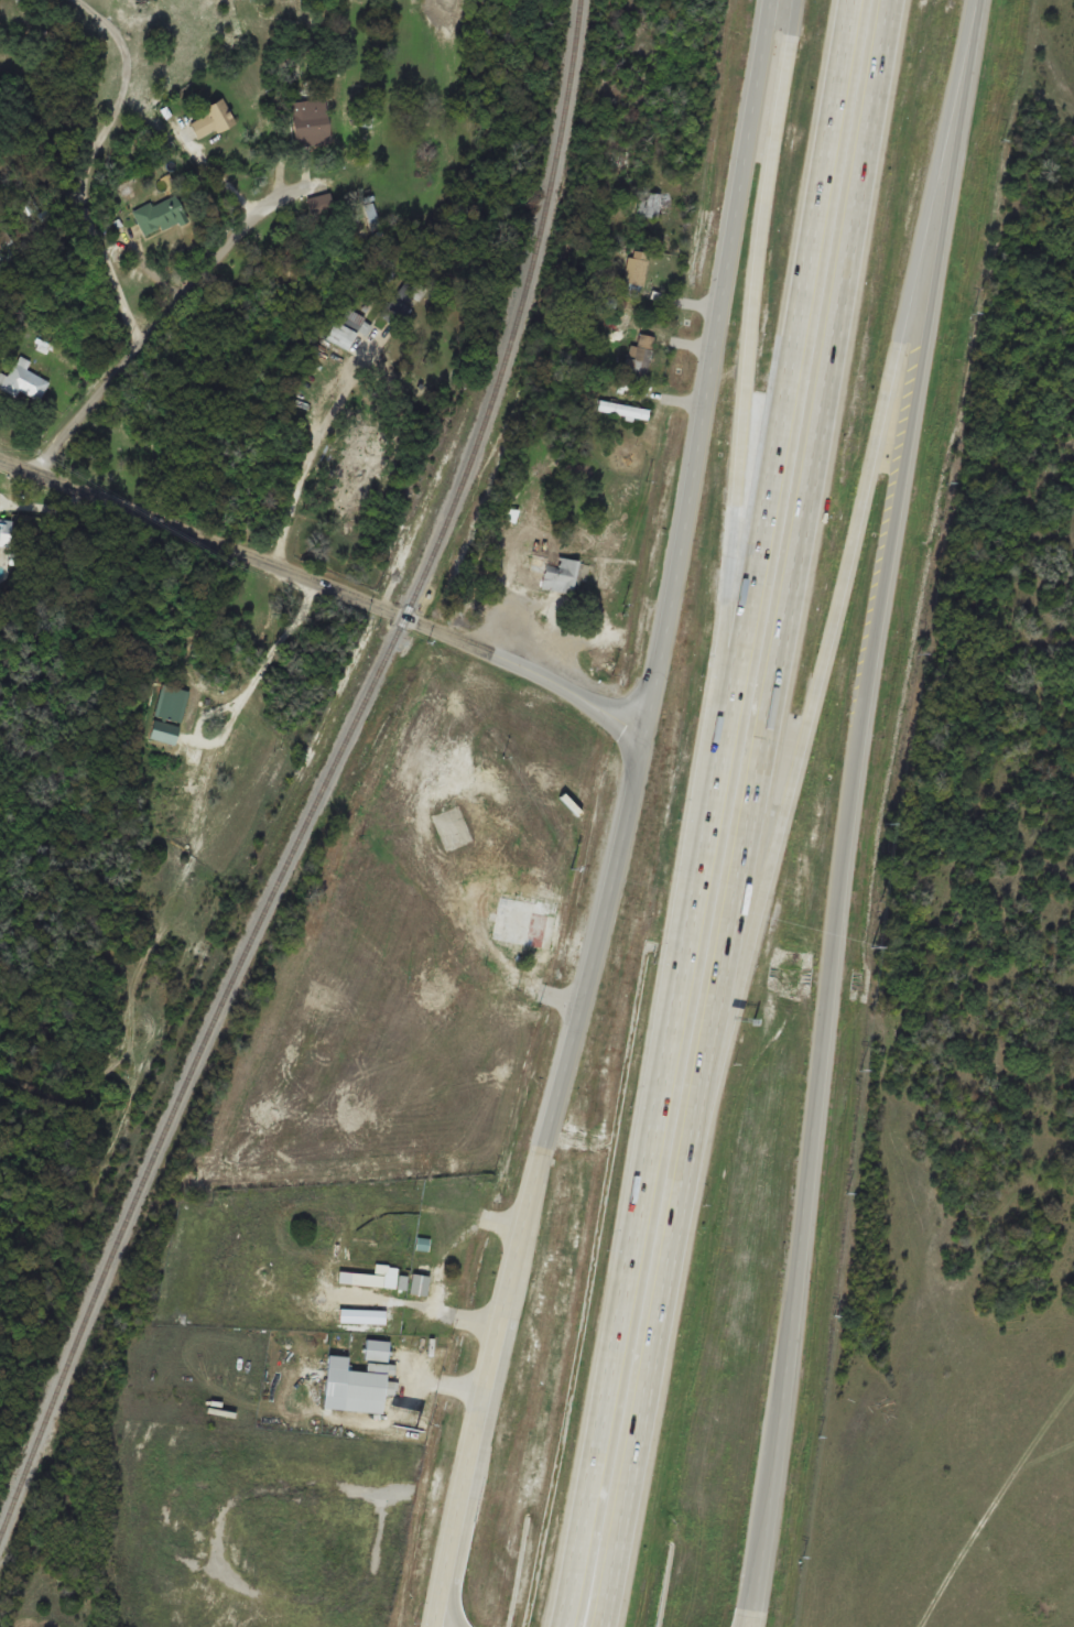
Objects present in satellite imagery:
building: (211, 118)
building: (310, 120)
building: (26, 203)
building: (649, 204)
building: (156, 215)
building: (6, 247)
building: (639, 268)
road: (163, 308)
building: (346, 327)
building: (639, 355)
building: (25, 380)
road: (746, 444)
road: (308, 463)
road: (19, 465)
building: (511, 514)
building: (6, 528)
building: (497, 561)
building: (555, 570)
road: (346, 594)
road: (311, 614)
building: (253, 626)
road: (780, 660)
road: (831, 662)
road: (307, 682)
railway: (328, 782)
building: (440, 790)
road: (847, 810)
road: (717, 813)
road: (626, 818)
building: (524, 923)
building: (379, 1250)
building: (380, 1277)
building: (462, 1287)
building: (357, 1384)
road: (638, 1474)
road: (448, 1591)

